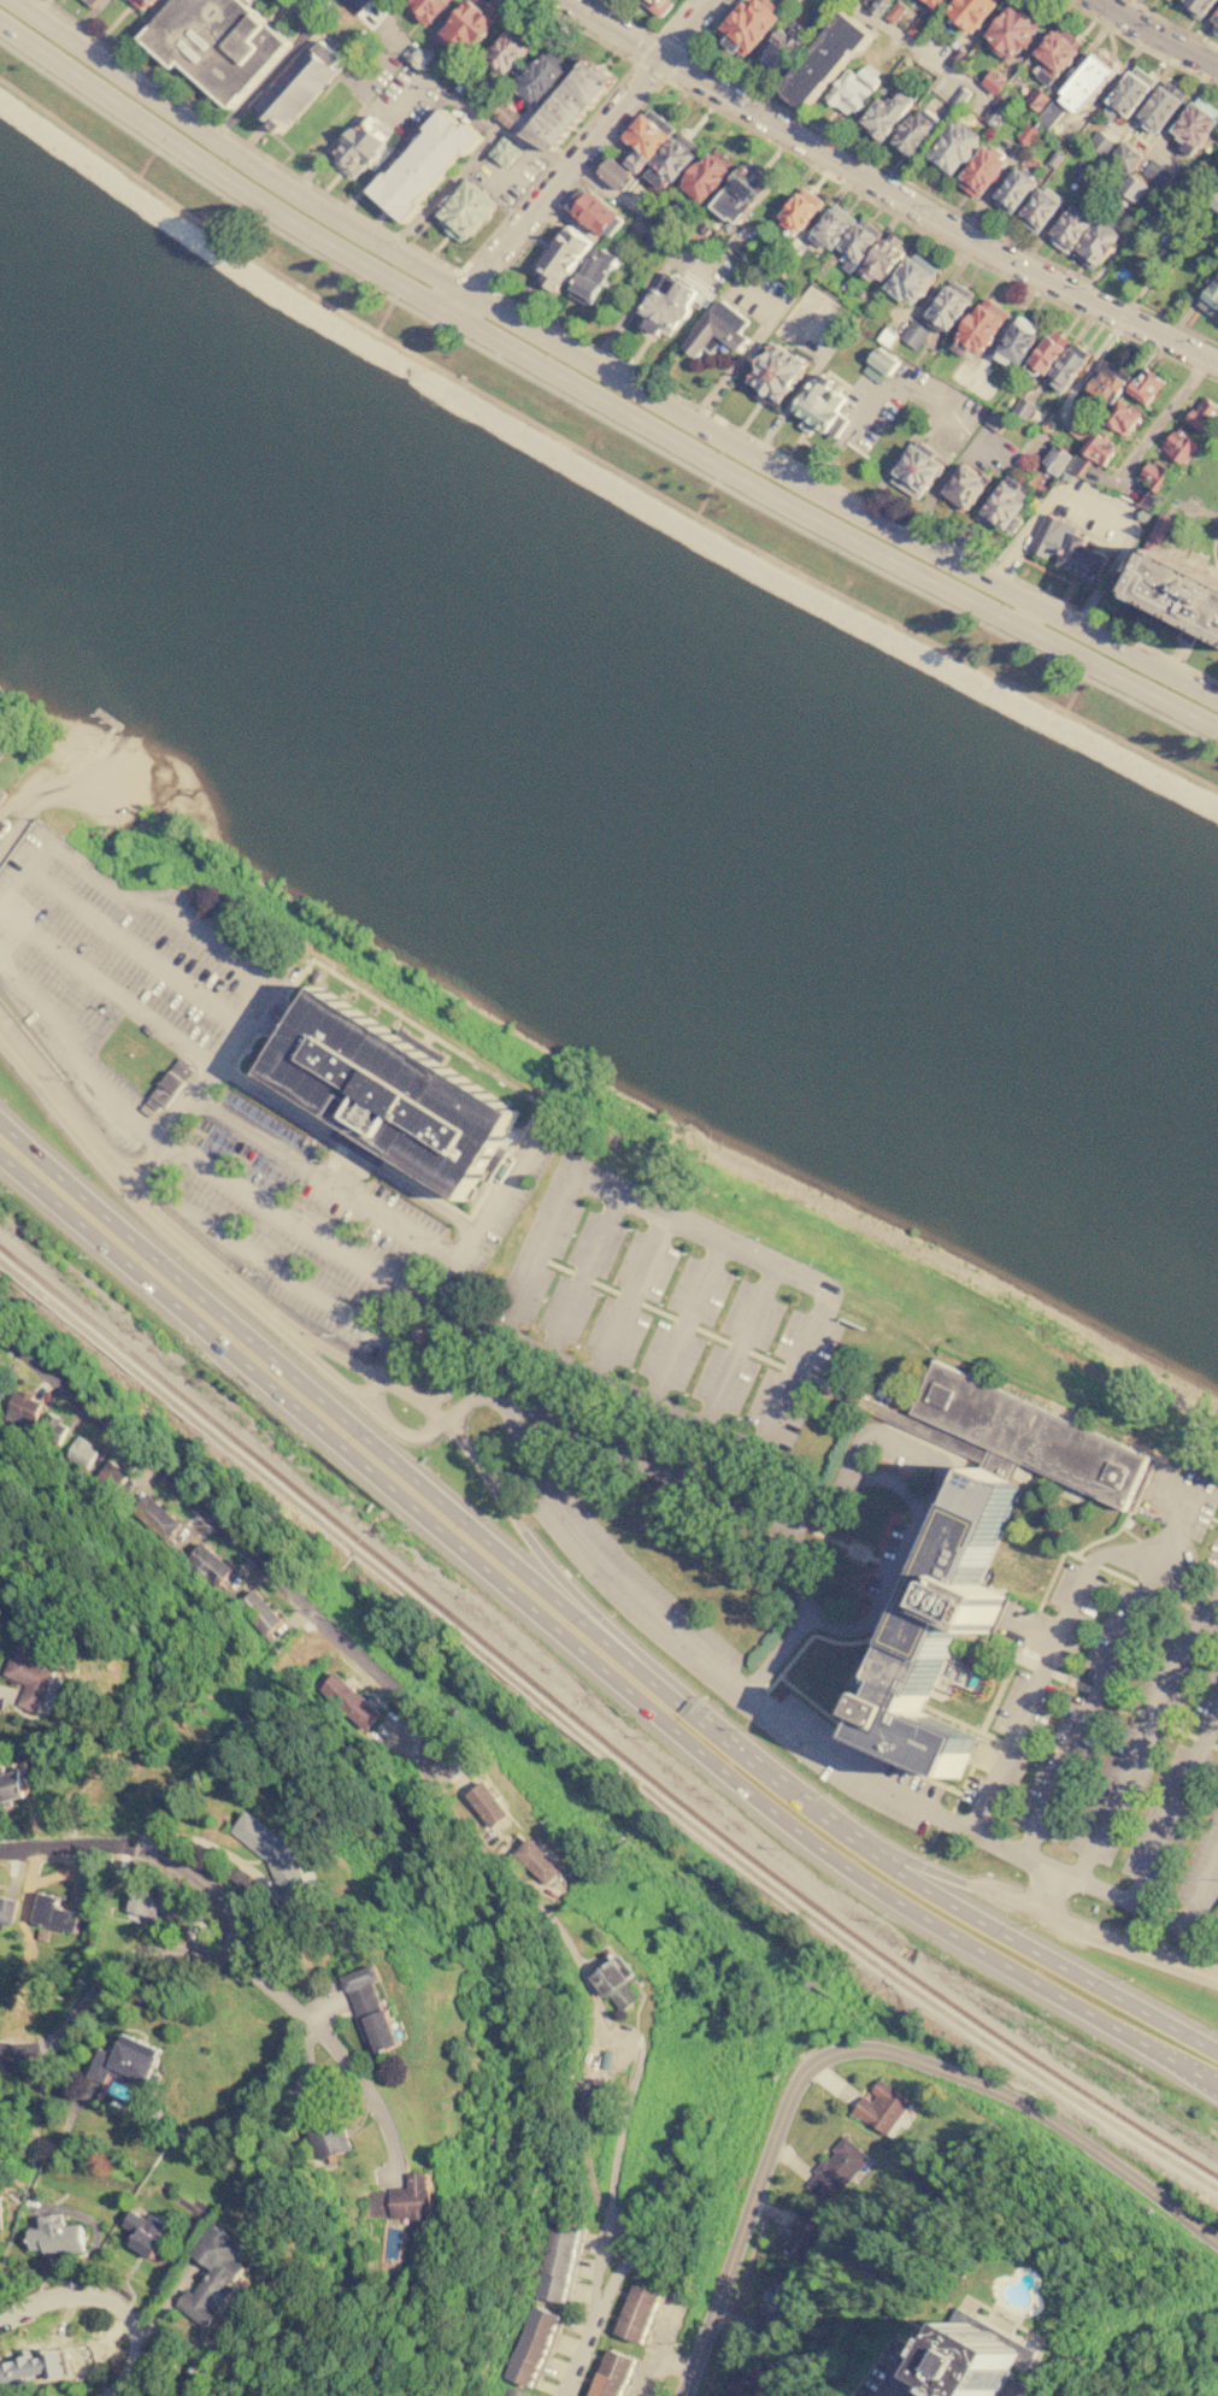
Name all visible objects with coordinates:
building: (1165, 0)
building: (1172, 0)
building: (86, 2)
building: (358, 2)
building: (932, 2)
building: (136, 5)
building: (875, 5)
building: (654, 6)
building: (1195, 6)
building: (422, 8)
building: (966, 11)
building: (894, 12)
building: (1214, 16)
road: (693, 19)
road: (83, 20)
road: (602, 20)
building: (743, 24)
building: (464, 25)
building: (1216, 25)
building: (914, 27)
road: (1172, 27)
building: (1010, 29)
road: (648, 30)
road: (1161, 34)
building: (218, 43)
road: (912, 46)
road: (1142, 46)
building: (1054, 47)
building: (779, 48)
building: (502, 51)
road: (661, 57)
building: (418, 58)
building: (825, 59)
building: (957, 59)
building: (1045, 73)
building: (537, 76)
road: (664, 77)
building: (992, 81)
building: (1082, 83)
building: (851, 88)
building: (293, 89)
building: (1128, 89)
building: (959, 96)
building: (1037, 99)
building: (1159, 104)
building: (570, 105)
building: (994, 111)
building: (1049, 111)
building: (505, 112)
building: (882, 114)
building: (320, 119)
road: (354, 120)
building: (1193, 122)
road: (494, 124)
building: (912, 129)
building: (645, 131)
building: (1026, 134)
building: (1100, 142)
building: (360, 146)
building: (949, 146)
building: (504, 153)
building: (671, 155)
building: (1124, 155)
building: (1053, 158)
building: (631, 160)
building: (424, 166)
building: (981, 169)
road: (514, 170)
building: (1081, 172)
building: (611, 173)
building: (1157, 173)
building: (704, 175)
road: (576, 178)
building: (1130, 188)
road: (919, 189)
building: (1011, 189)
road: (546, 194)
building: (736, 195)
building: (1213, 202)
building: (1037, 208)
building: (798, 210)
road: (923, 210)
building: (461, 211)
building: (594, 214)
building: (1160, 220)
building: (830, 224)
building: (1067, 228)
road: (936, 237)
building: (857, 239)
building: (1095, 242)
building: (657, 243)
road: (414, 246)
building: (557, 258)
building: (879, 259)
building: (588, 275)
road: (725, 275)
road: (476, 278)
building: (908, 278)
building: (1210, 300)
building: (666, 306)
building: (947, 306)
road: (488, 310)
building: (1217, 323)
building: (863, 325)
building: (976, 326)
building: (714, 331)
building: (913, 334)
building: (885, 338)
building: (1016, 340)
road: (500, 343)
building: (1043, 353)
building: (877, 365)
building: (1065, 366)
building: (955, 373)
building: (771, 376)
road: (801, 384)
building: (1142, 387)
building: (1100, 390)
road: (876, 399)
building: (818, 407)
building: (1022, 408)
building: (1201, 416)
road: (595, 417)
road: (1161, 417)
building: (1120, 418)
building: (998, 419)
building: (1079, 429)
building: (1177, 446)
building: (1095, 449)
road: (595, 458)
building: (1053, 461)
building: (1075, 464)
building: (912, 473)
building: (1154, 477)
building: (960, 489)
road: (847, 491)
road: (936, 491)
building: (1005, 505)
road: (1094, 508)
building: (1159, 530)
building: (1065, 549)
road: (1212, 554)
parking lot: (1217, 559)
building: (1181, 590)
road: (1010, 595)
road: (1053, 617)
road: (1025, 618)
building: (1185, 632)
road: (1146, 666)
road: (1119, 679)
pier: (112, 724)
river: (598, 778)
road: (81, 781)
building: (0, 793)
road: (35, 800)
building: (2, 826)
road: (186, 920)
road: (133, 948)
road: (105, 987)
building: (167, 1087)
building: (372, 1097)
parking lot: (225, 1106)
road: (271, 1148)
road: (188, 1159)
road: (117, 1182)
road: (722, 1246)
road: (451, 1262)
road: (579, 1276)
road: (286, 1277)
road: (628, 1299)
parking lot: (666, 1311)
road: (683, 1323)
road: (737, 1348)
road: (508, 1405)
building: (24, 1407)
railway: (210, 1425)
building: (53, 1427)
road: (606, 1427)
building: (1026, 1434)
building: (82, 1452)
road: (694, 1455)
parking lot: (899, 1460)
building: (111, 1474)
road: (893, 1480)
road: (937, 1483)
road: (492, 1485)
building: (157, 1517)
road: (798, 1519)
road: (852, 1544)
building: (210, 1564)
parking lot: (879, 1566)
road: (910, 1579)
building: (260, 1612)
road: (584, 1619)
building: (946, 1631)
road: (1025, 1636)
road: (1055, 1637)
road: (358, 1656)
road: (581, 1659)
parking lot: (723, 1662)
road: (1111, 1662)
building: (30, 1673)
road: (729, 1678)
road: (1088, 1689)
road: (702, 1696)
building: (352, 1701)
parking lot: (1124, 1703)
road: (1146, 1726)
road: (863, 1743)
railway: (589, 1752)
building: (12, 1786)
road: (963, 1786)
building: (488, 1803)
road: (1173, 1803)
road: (945, 1818)
road: (929, 1842)
road: (196, 1843)
road: (141, 1850)
building: (276, 1855)
building: (539, 1860)
road: (1052, 1879)
road: (1043, 1894)
railway: (810, 1902)
building: (147, 1903)
road: (1031, 1905)
building: (7, 1909)
building: (54, 1912)
road: (1167, 1921)
road: (1136, 1937)
building: (1217, 1953)
road: (99, 1979)
building: (617, 1982)
building: (370, 2009)
road: (333, 2048)
road: (864, 2050)
building: (128, 2062)
building: (883, 2109)
building: (320, 2125)
building: (835, 2170)
building: (412, 2201)
building: (1, 2212)
building: (145, 2231)
building: (55, 2236)
building: (804, 2236)
building: (559, 2263)
building: (213, 2276)
road: (110, 2301)
building: (775, 2307)
road: (598, 2308)
building: (640, 2313)
building: (535, 2345)
building: (982, 2357)
road: (576, 2360)
building: (22, 2369)
building: (613, 2374)
building: (746, 2380)
building: (517, 2392)

